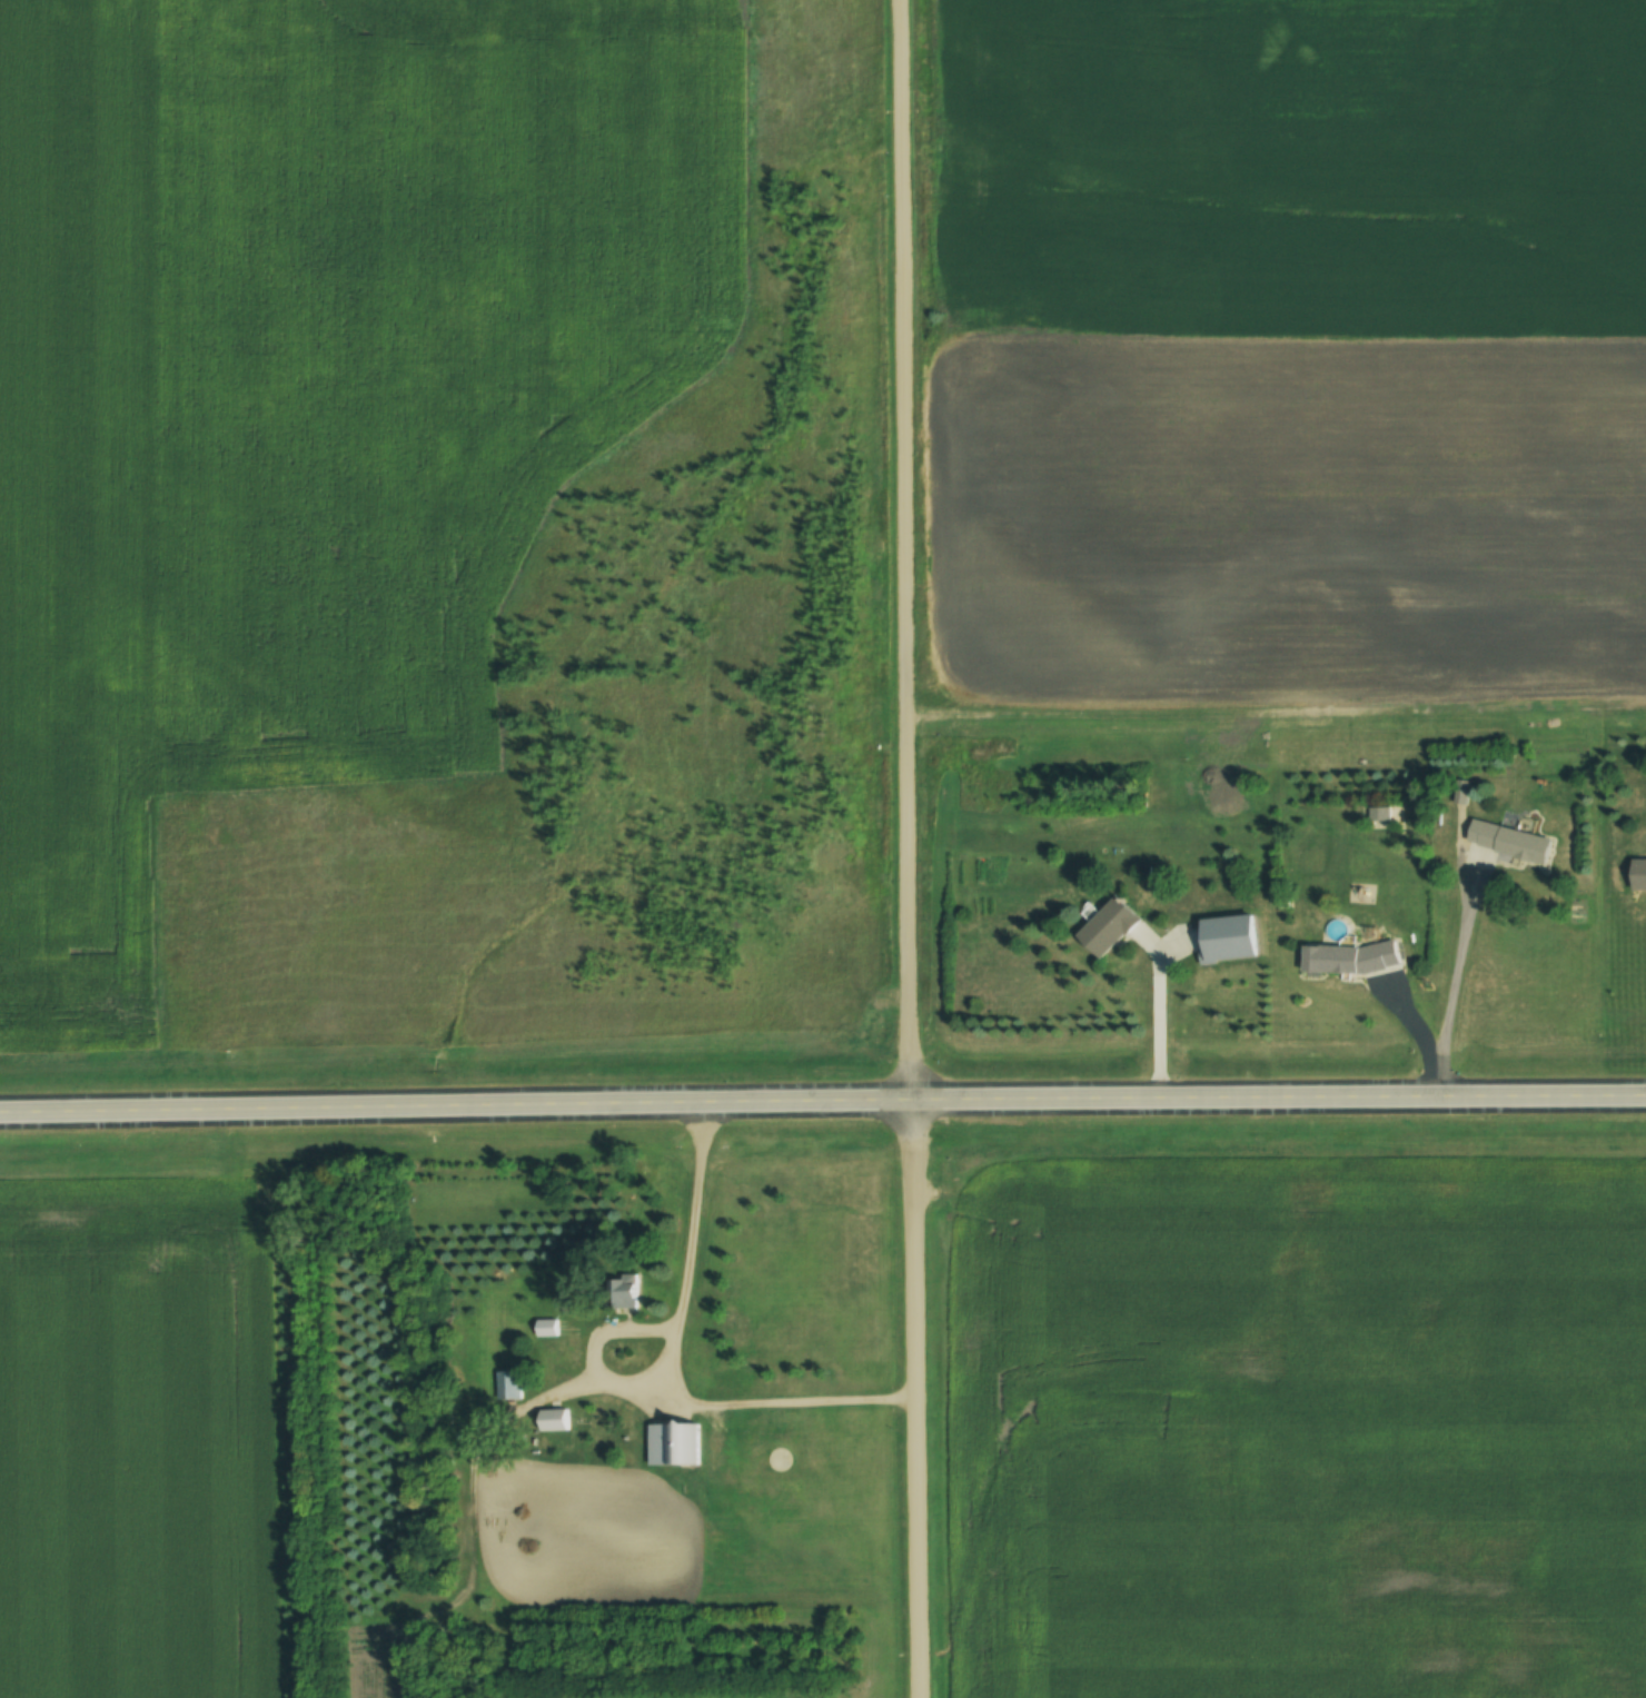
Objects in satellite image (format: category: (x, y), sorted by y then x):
building: (1507, 842)
road: (910, 848)
building: (1637, 874)
building: (1103, 926)
building: (1226, 937)
building: (1347, 957)
road: (822, 1106)
building: (552, 1328)
building: (510, 1386)
building: (680, 1443)

